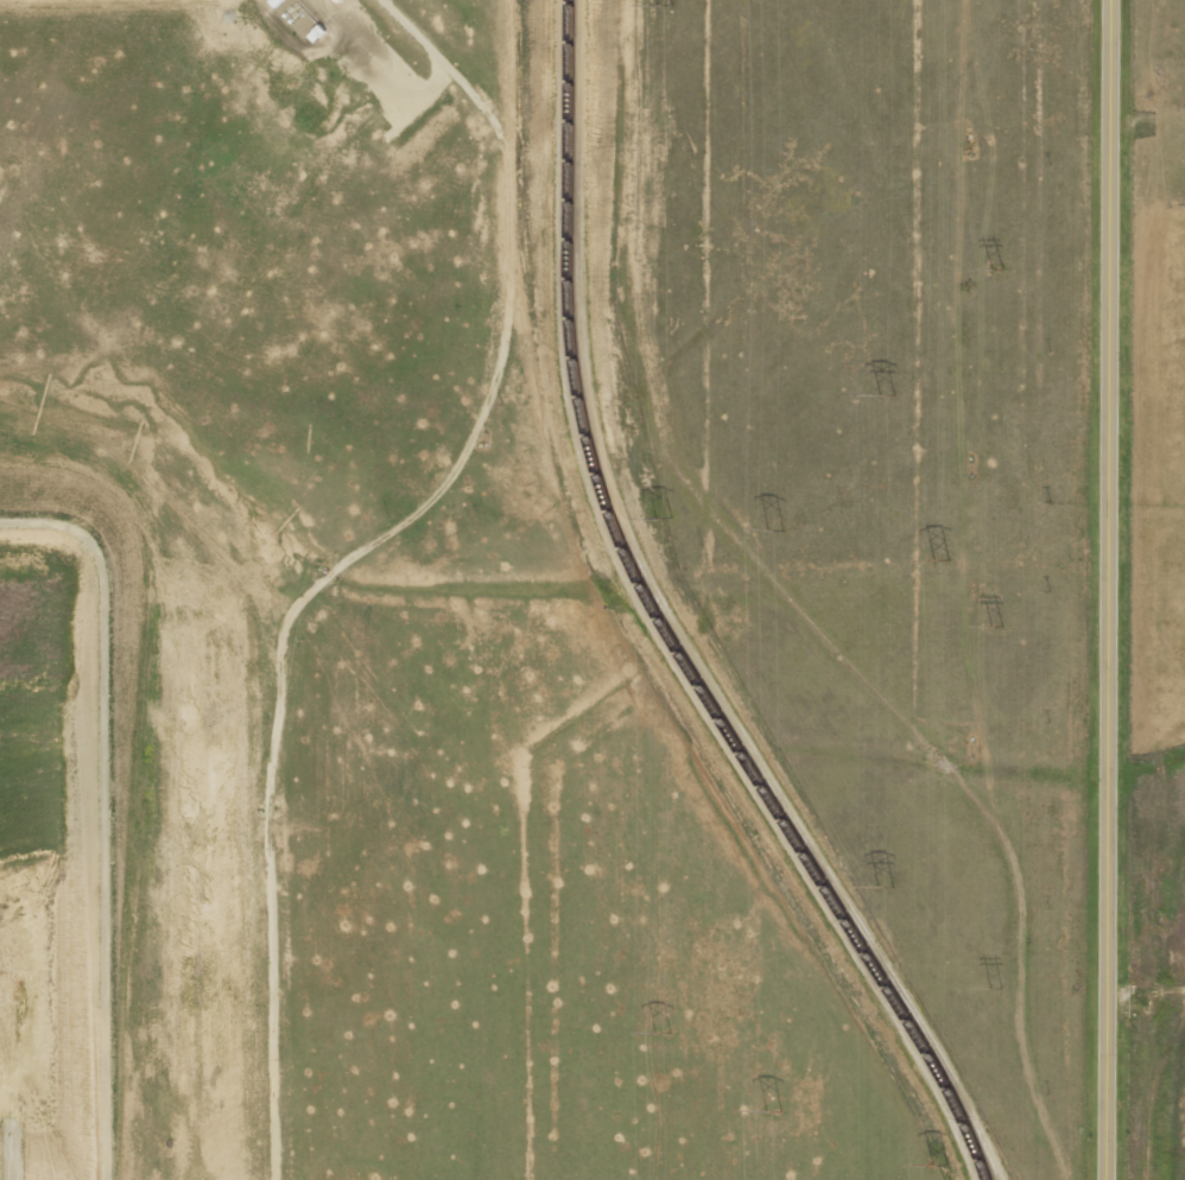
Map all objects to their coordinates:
building: (277, 2)
power tower: (660, 5)
power tower: (988, 271)
power tower: (879, 394)
power tower: (660, 518)
power tower: (768, 531)
power tower: (934, 562)
power plant: (536, 590)
road: (1101, 590)
power tower: (990, 623)
railway: (655, 627)
power tower: (877, 889)
power tower: (989, 986)
power tower: (658, 1032)
power tower: (767, 1111)
power tower: (933, 1165)

